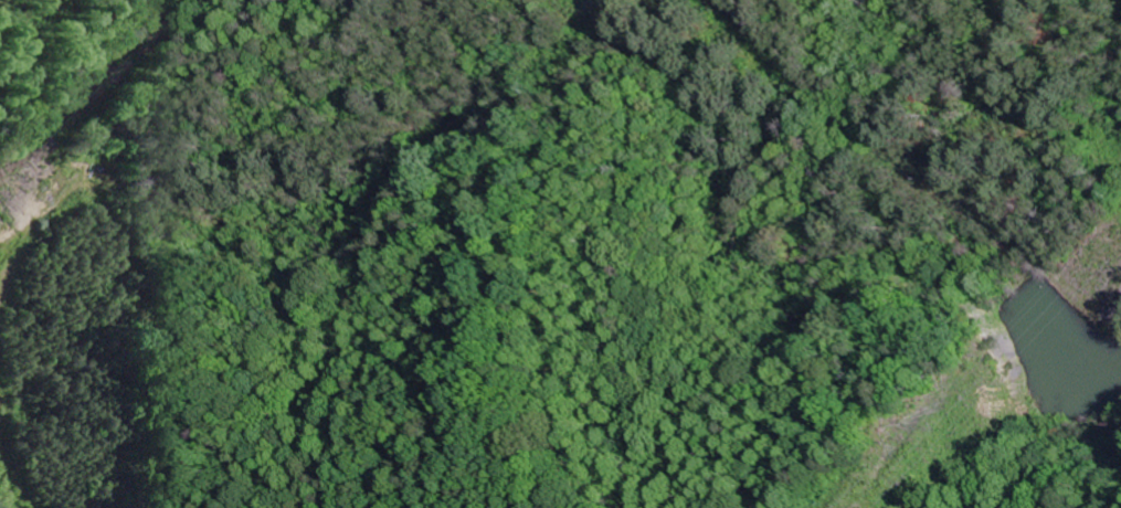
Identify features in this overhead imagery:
road: (944, 21)

